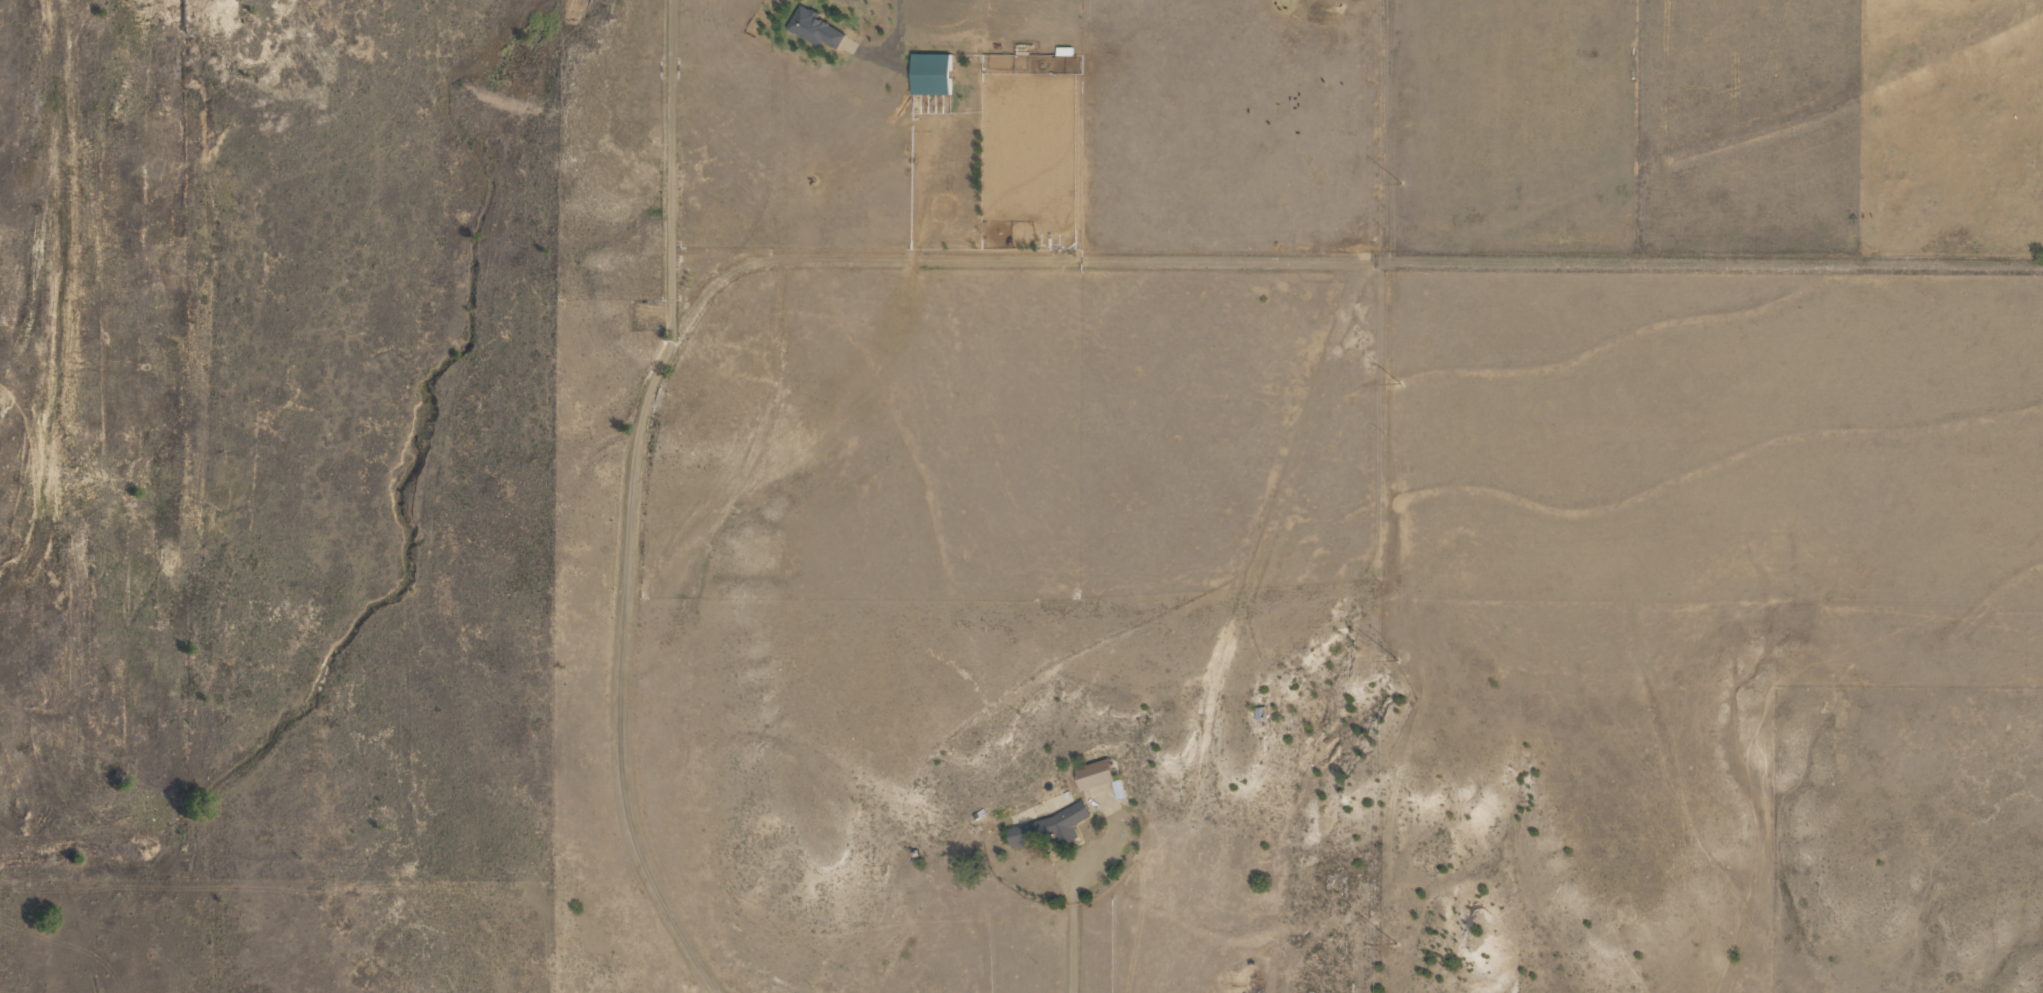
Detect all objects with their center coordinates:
building: (813, 28)
building: (929, 74)
power tower: (1398, 185)
power tower: (1397, 386)
road: (632, 504)
power tower: (1393, 660)
building: (1092, 775)
building: (1116, 790)
building: (1050, 827)
road: (1078, 916)
power tower: (1392, 943)

